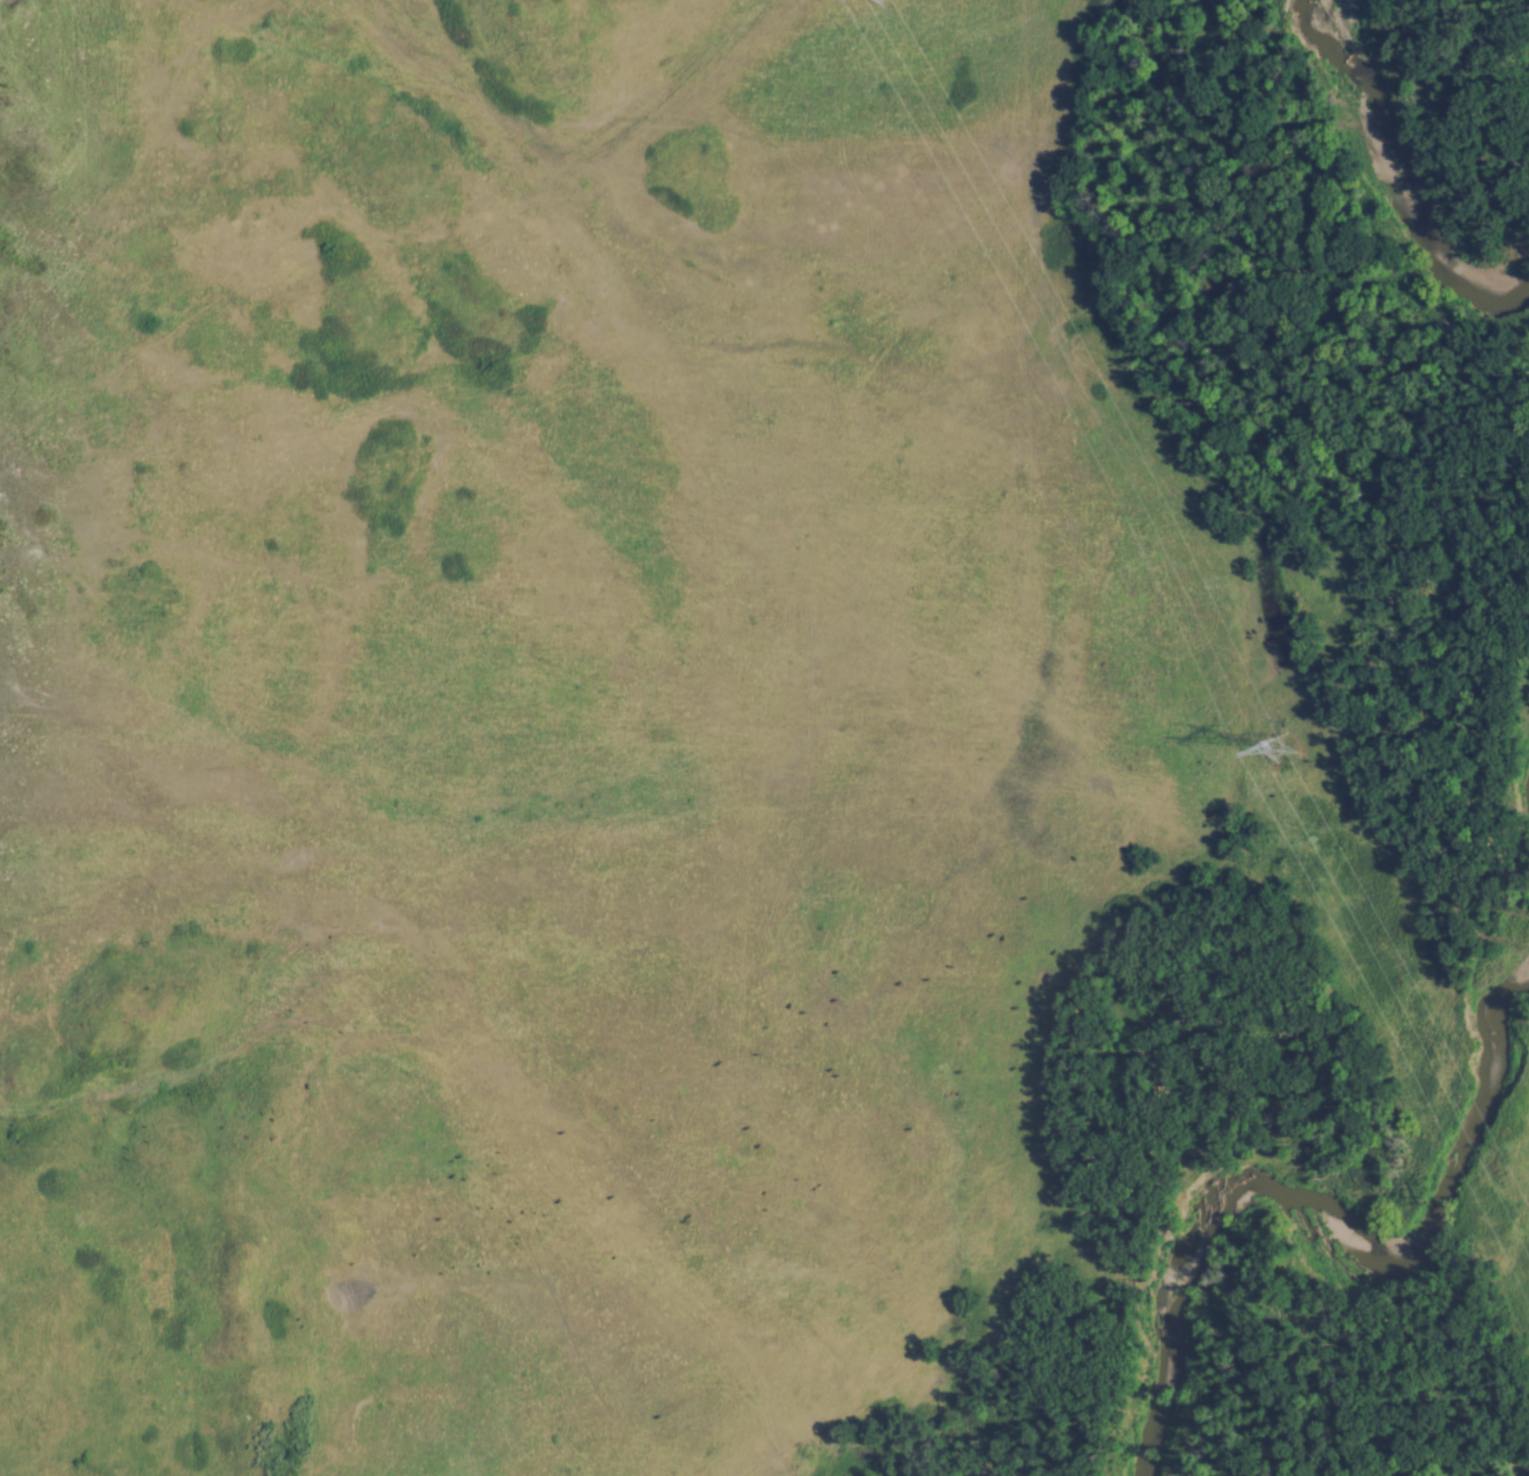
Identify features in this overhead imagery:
river: (1396, 184)
power tower: (1281, 750)
river: (1324, 1222)

